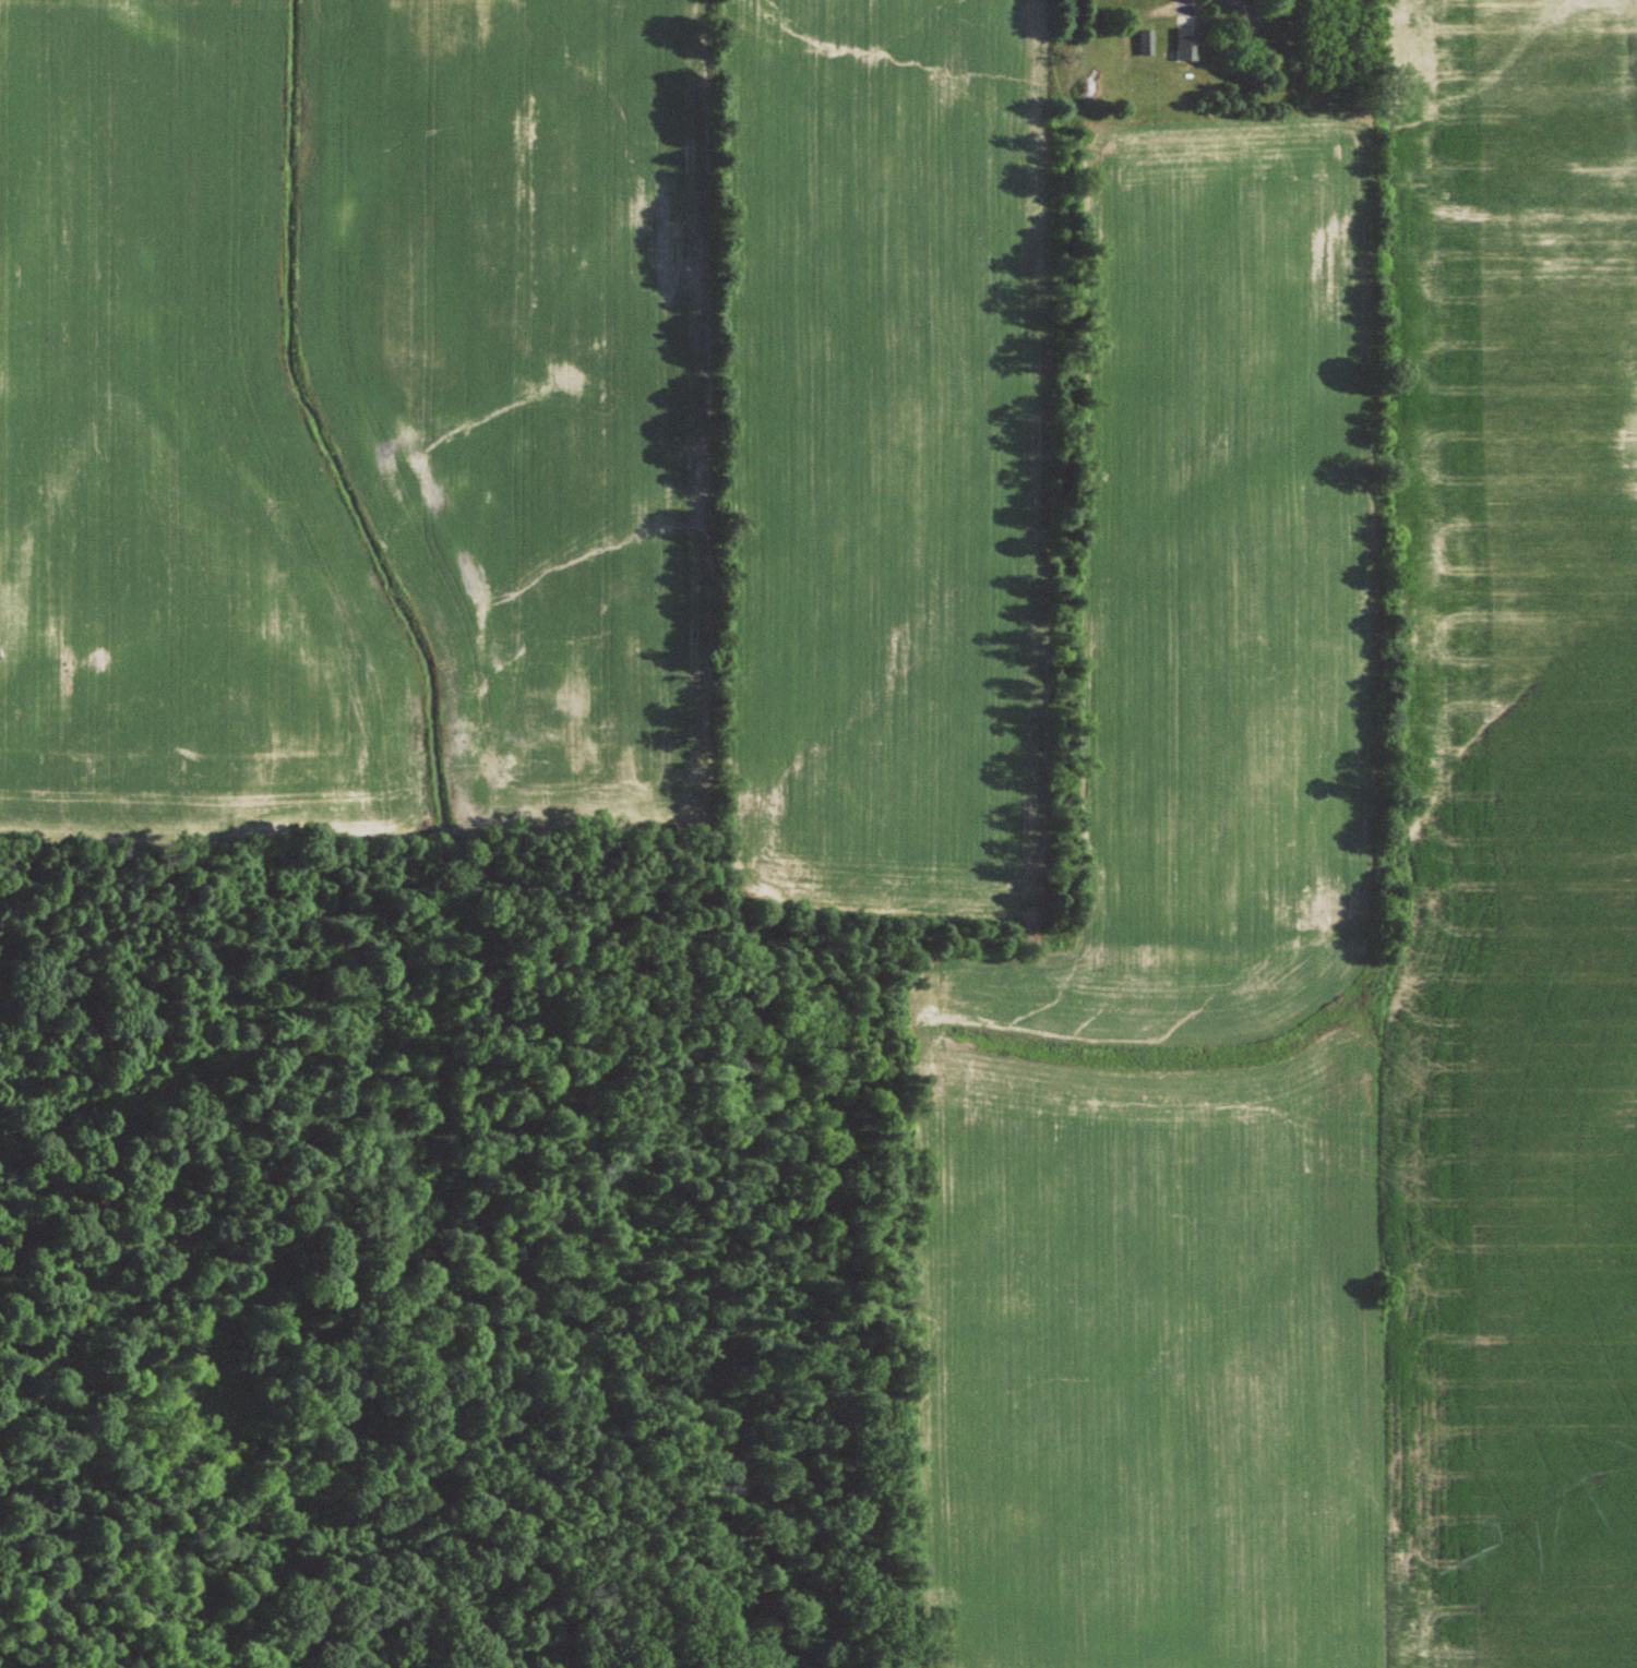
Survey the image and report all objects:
building: (1145, 45)
building: (1185, 47)

